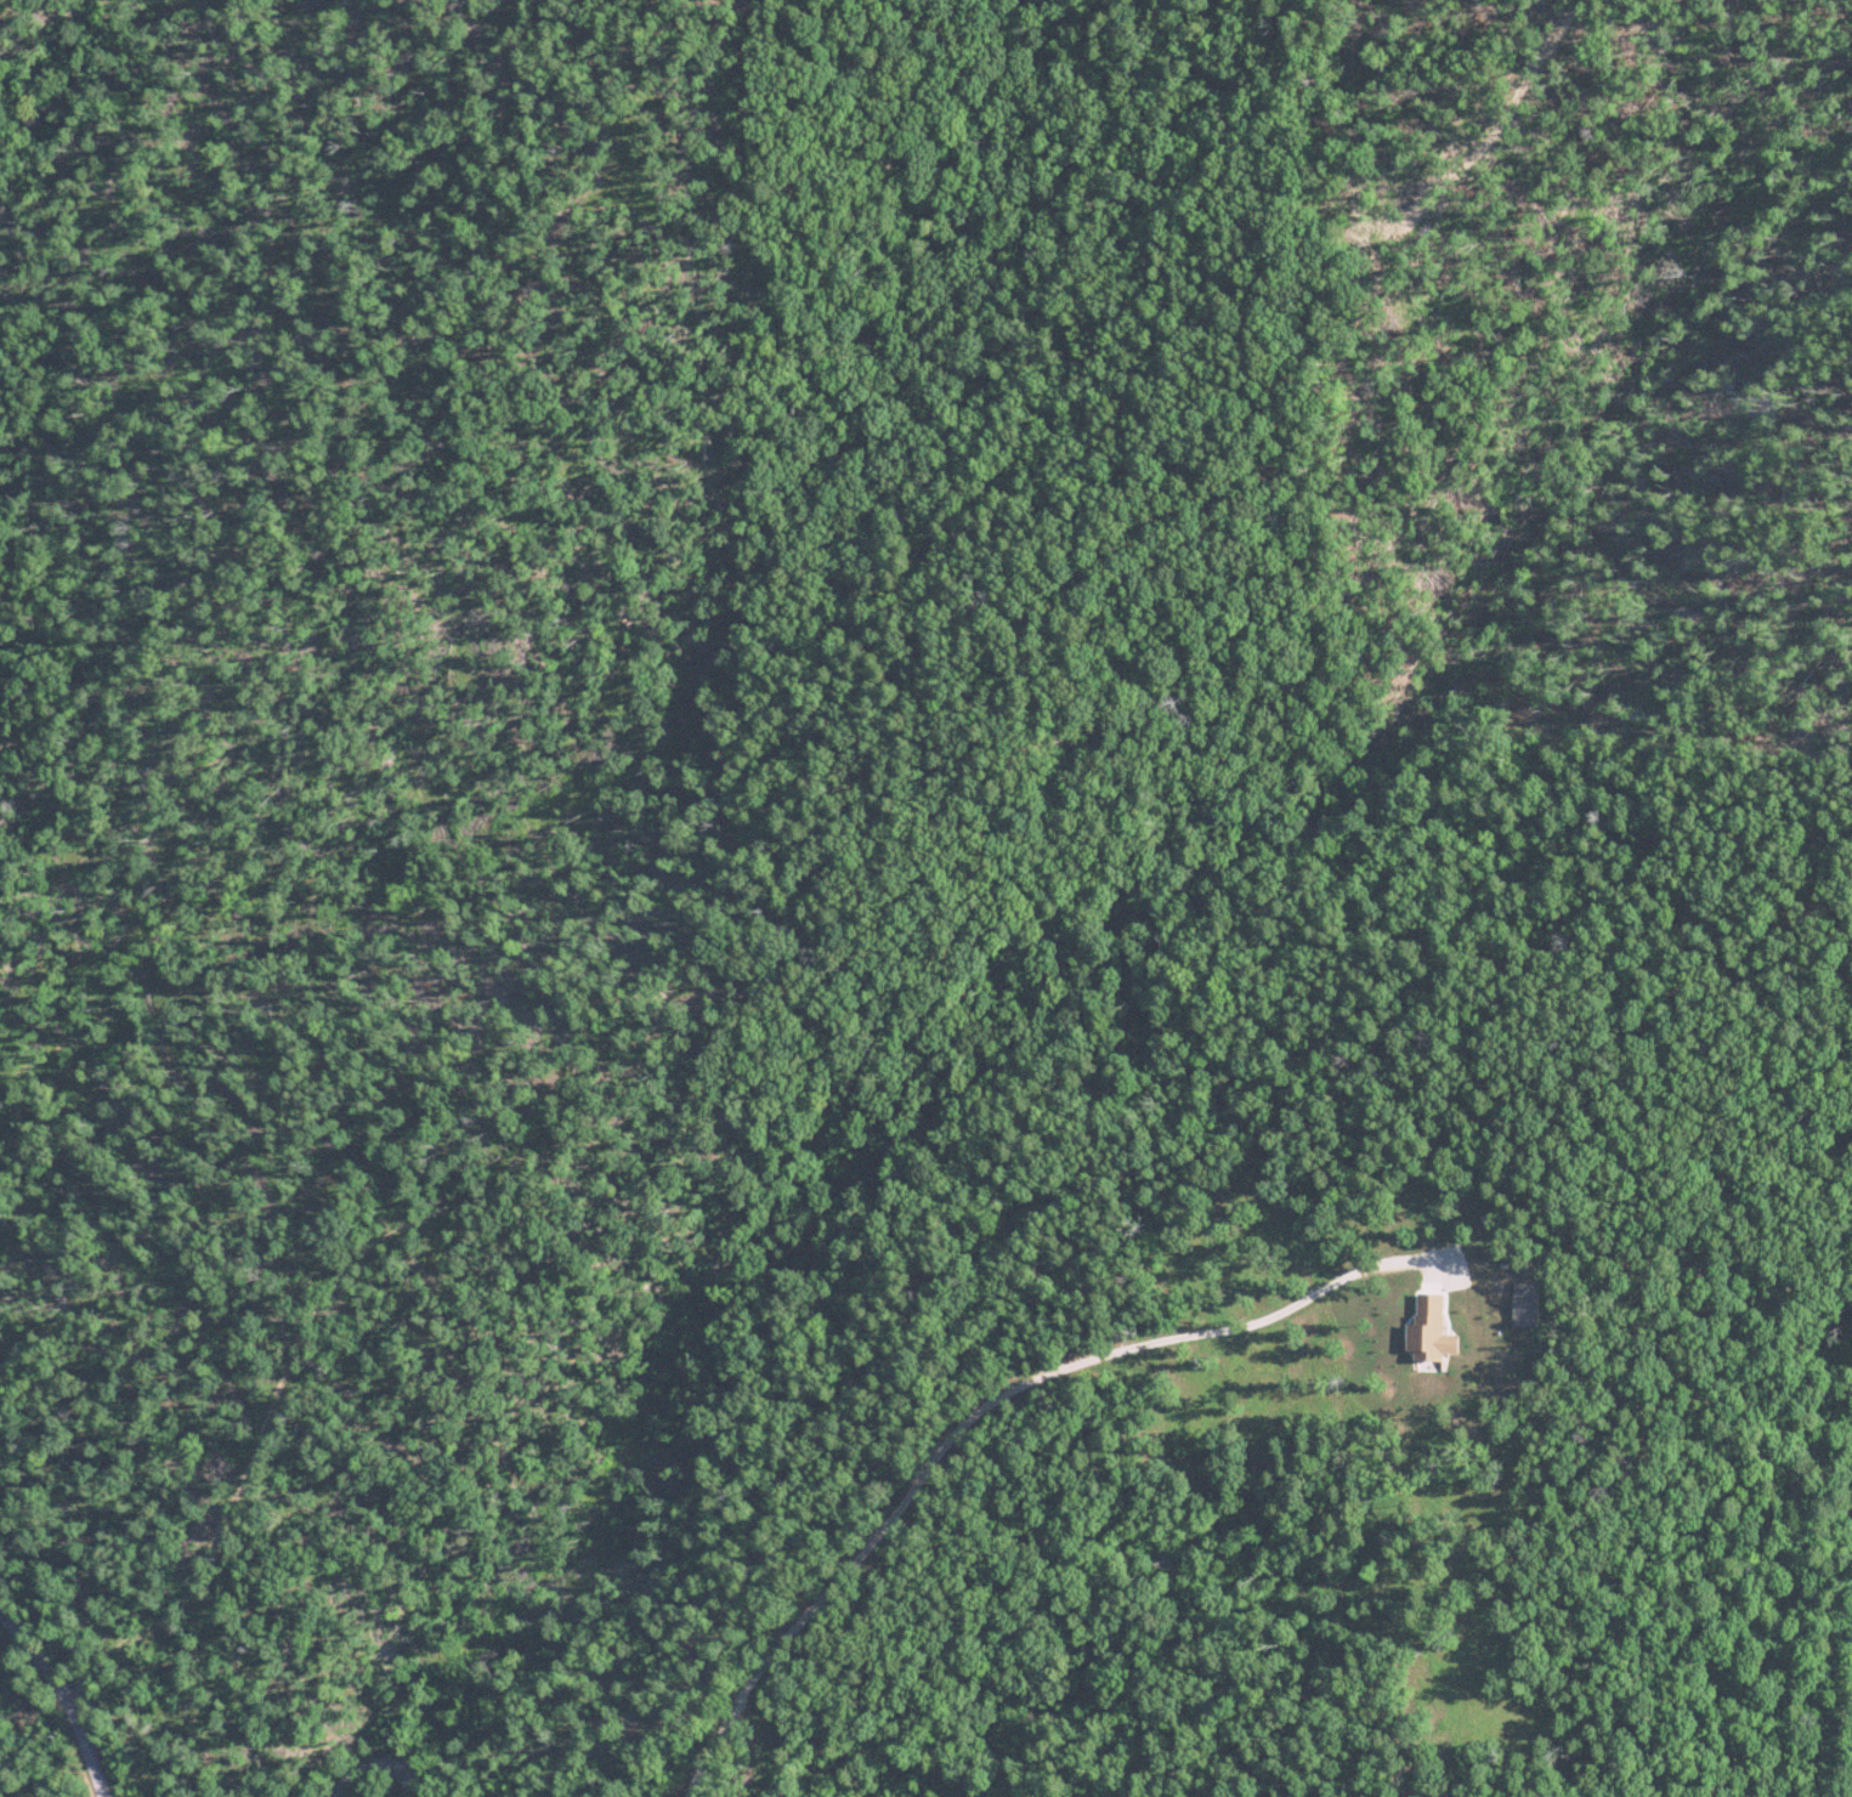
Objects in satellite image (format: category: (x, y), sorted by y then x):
road: (61, 1700)
road: (363, 1767)

